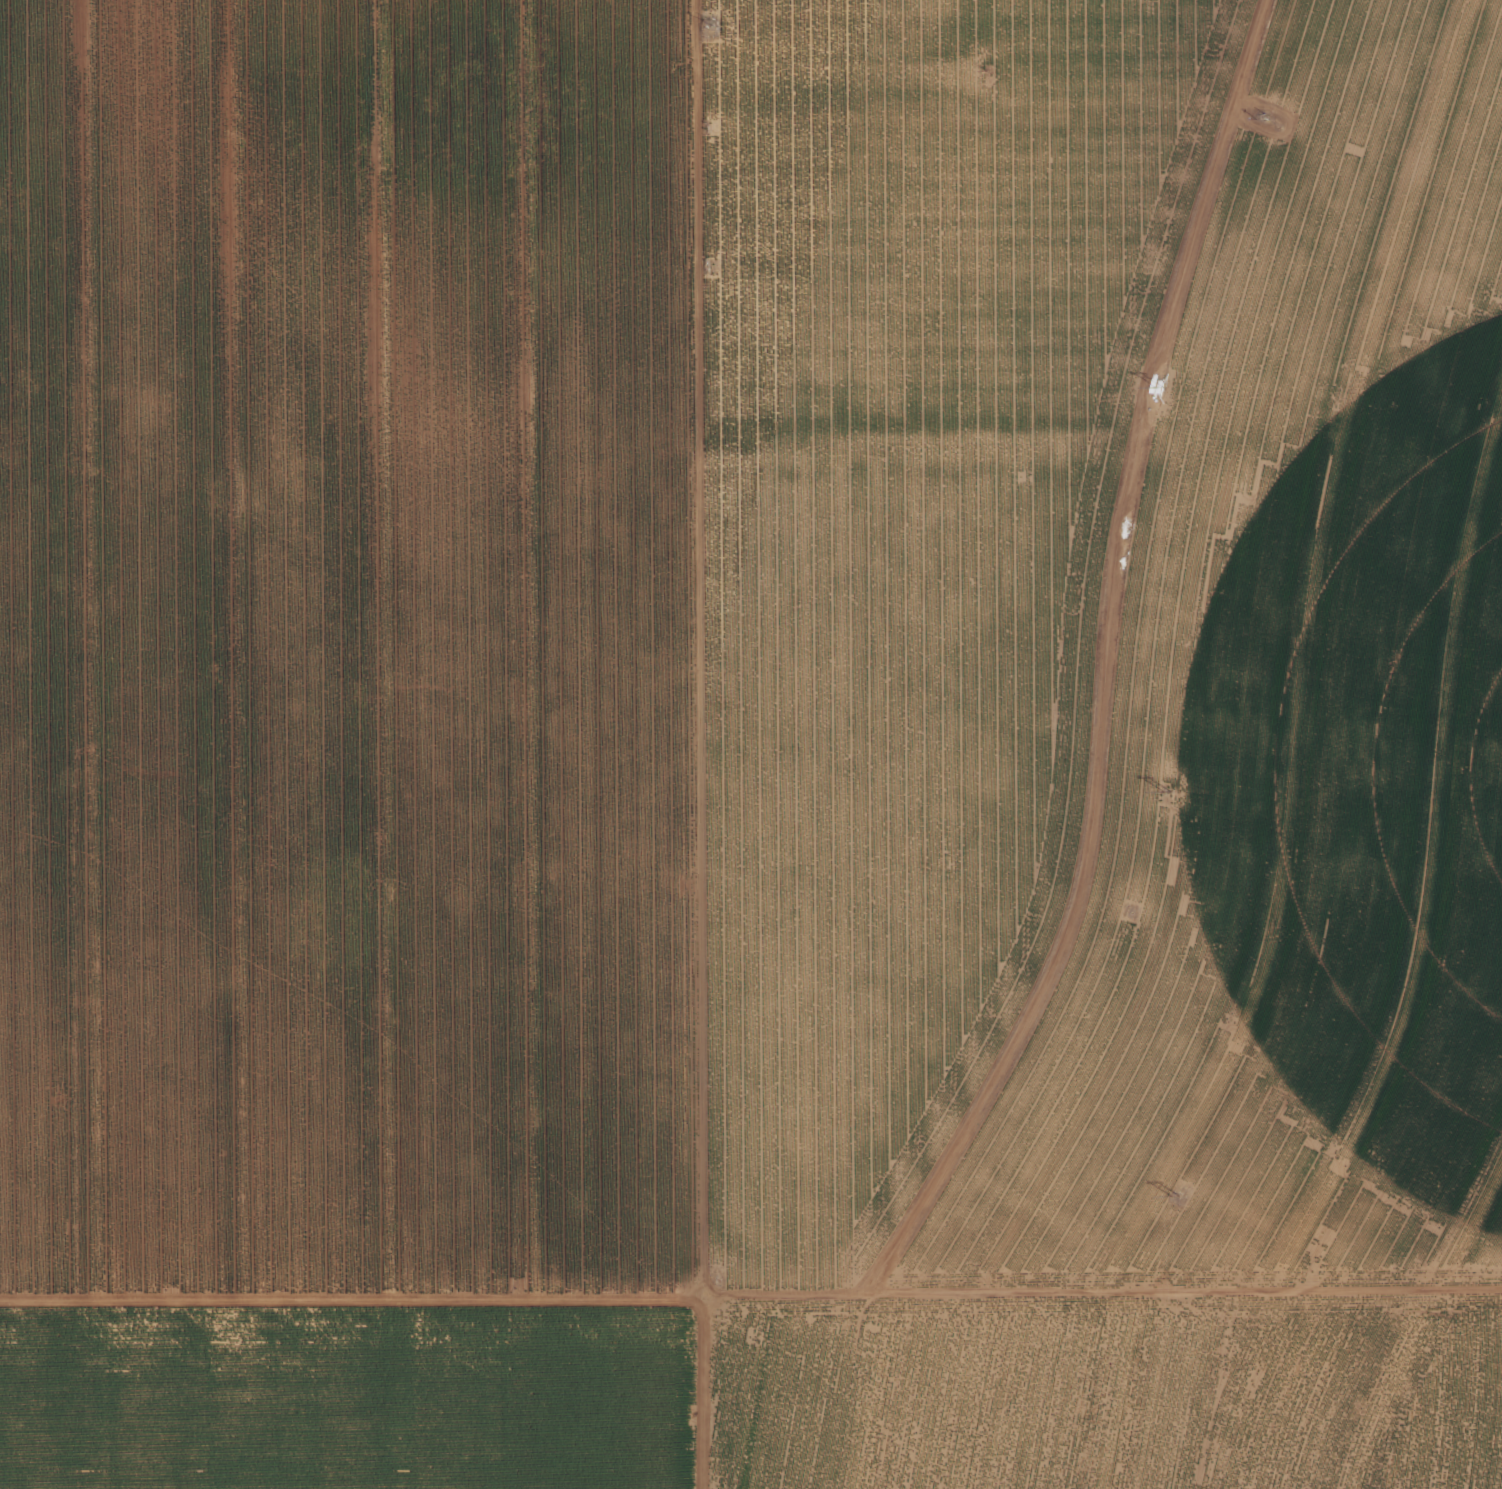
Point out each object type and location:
power tower: (1163, 384)
power tower: (1172, 788)
power tower: (1179, 1194)

